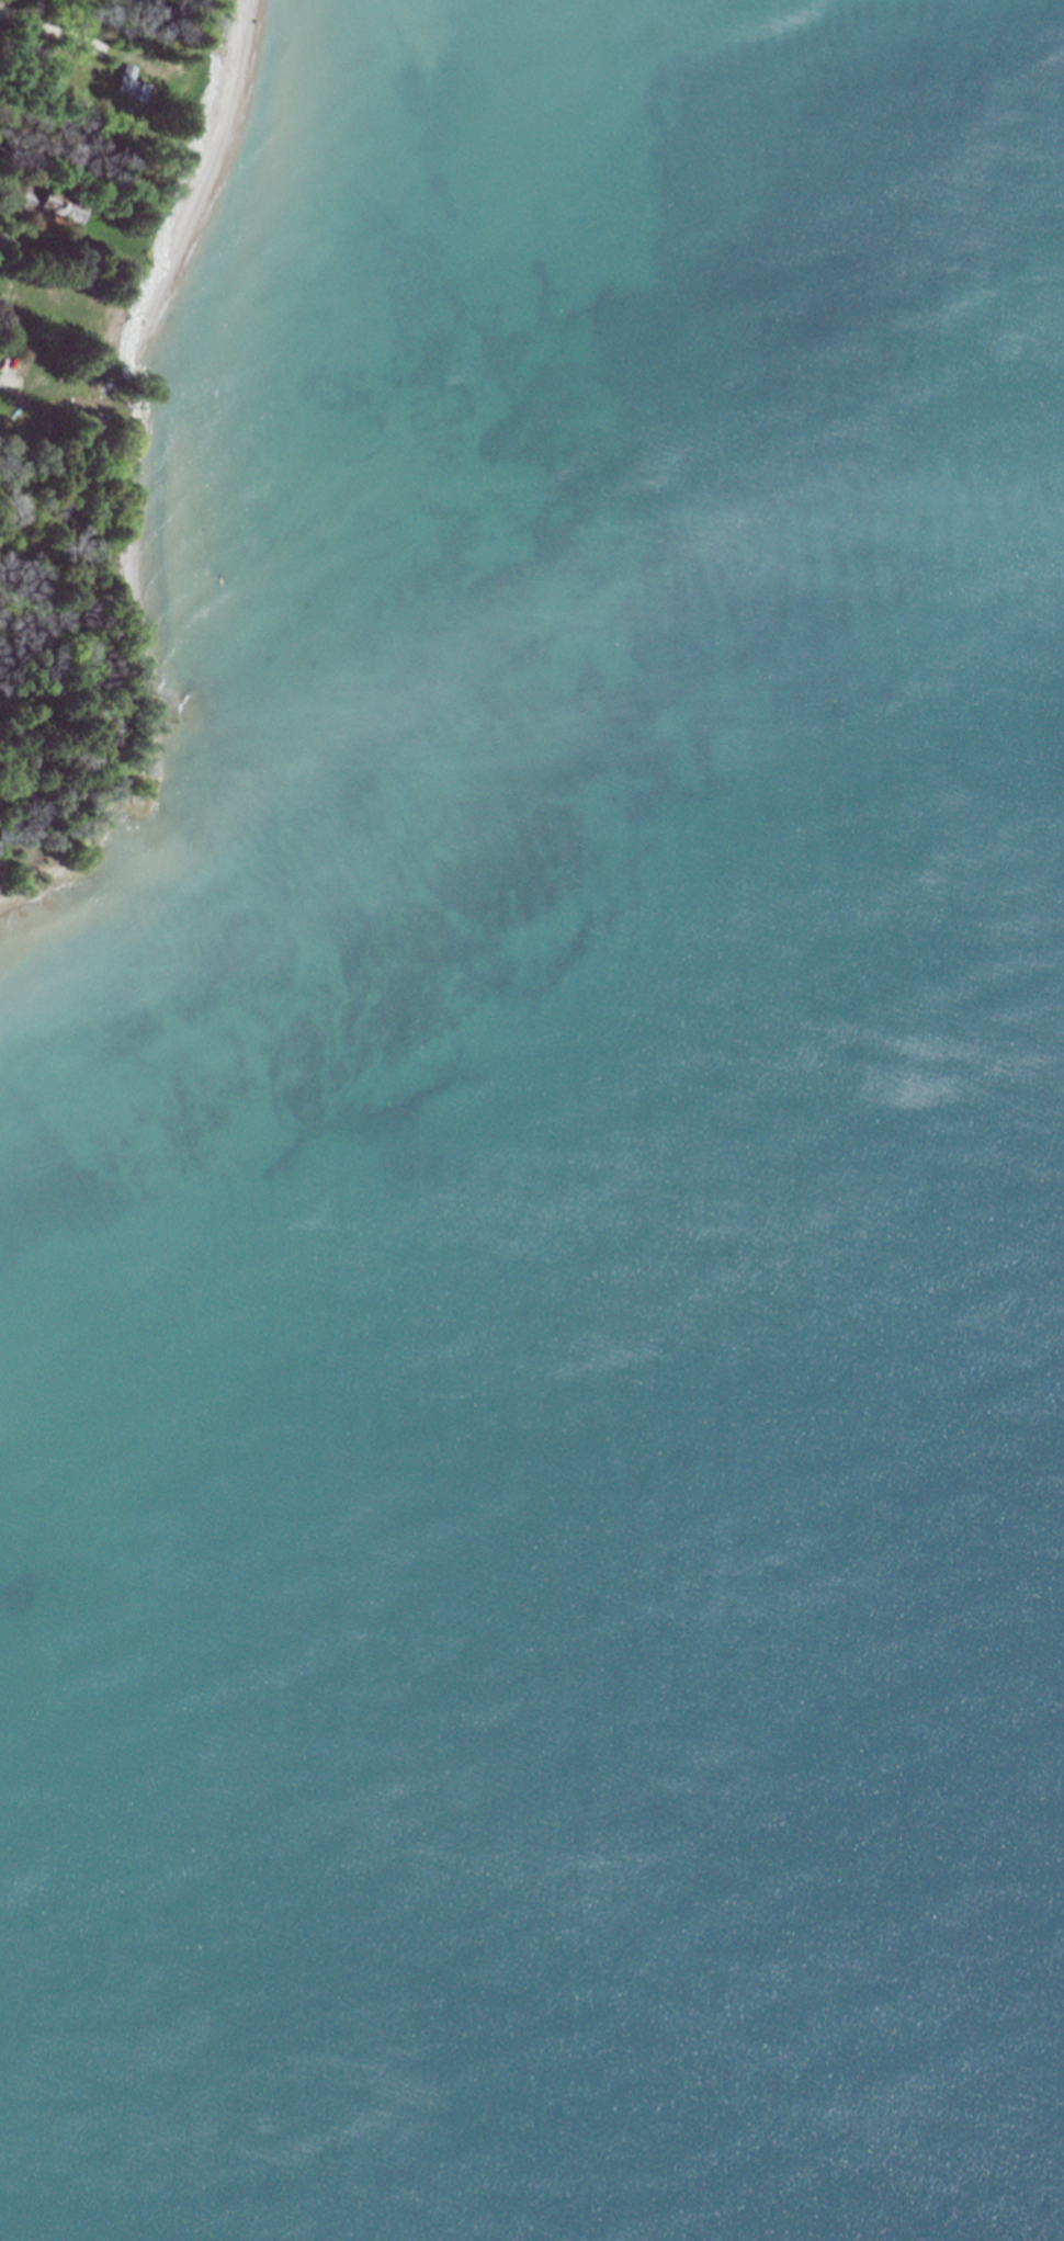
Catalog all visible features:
building: (132, 86)
building: (89, 425)

